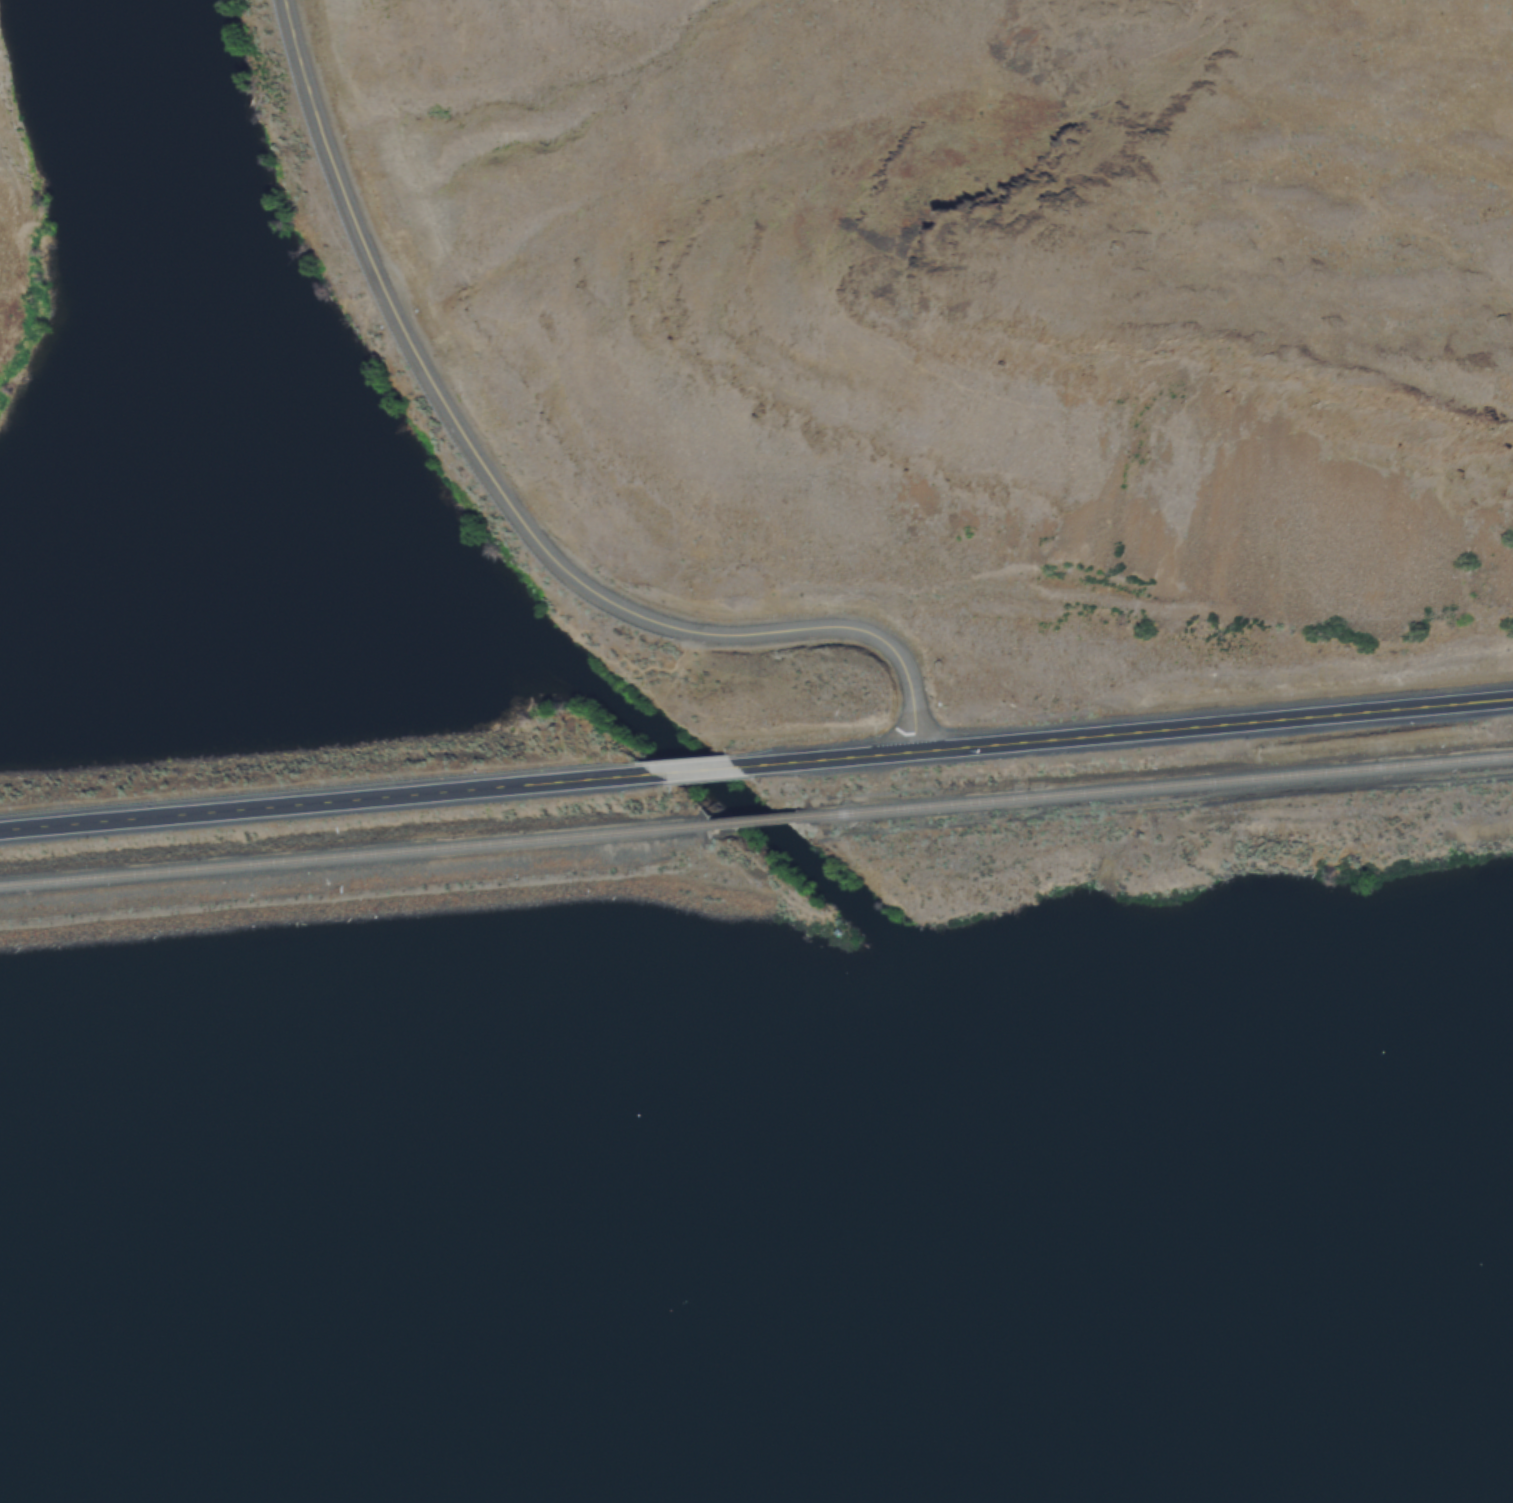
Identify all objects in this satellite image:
road: (503, 497)
road: (1124, 731)
road: (689, 767)
railway: (1154, 786)
road: (321, 799)
railway: (749, 821)
railway: (351, 854)

